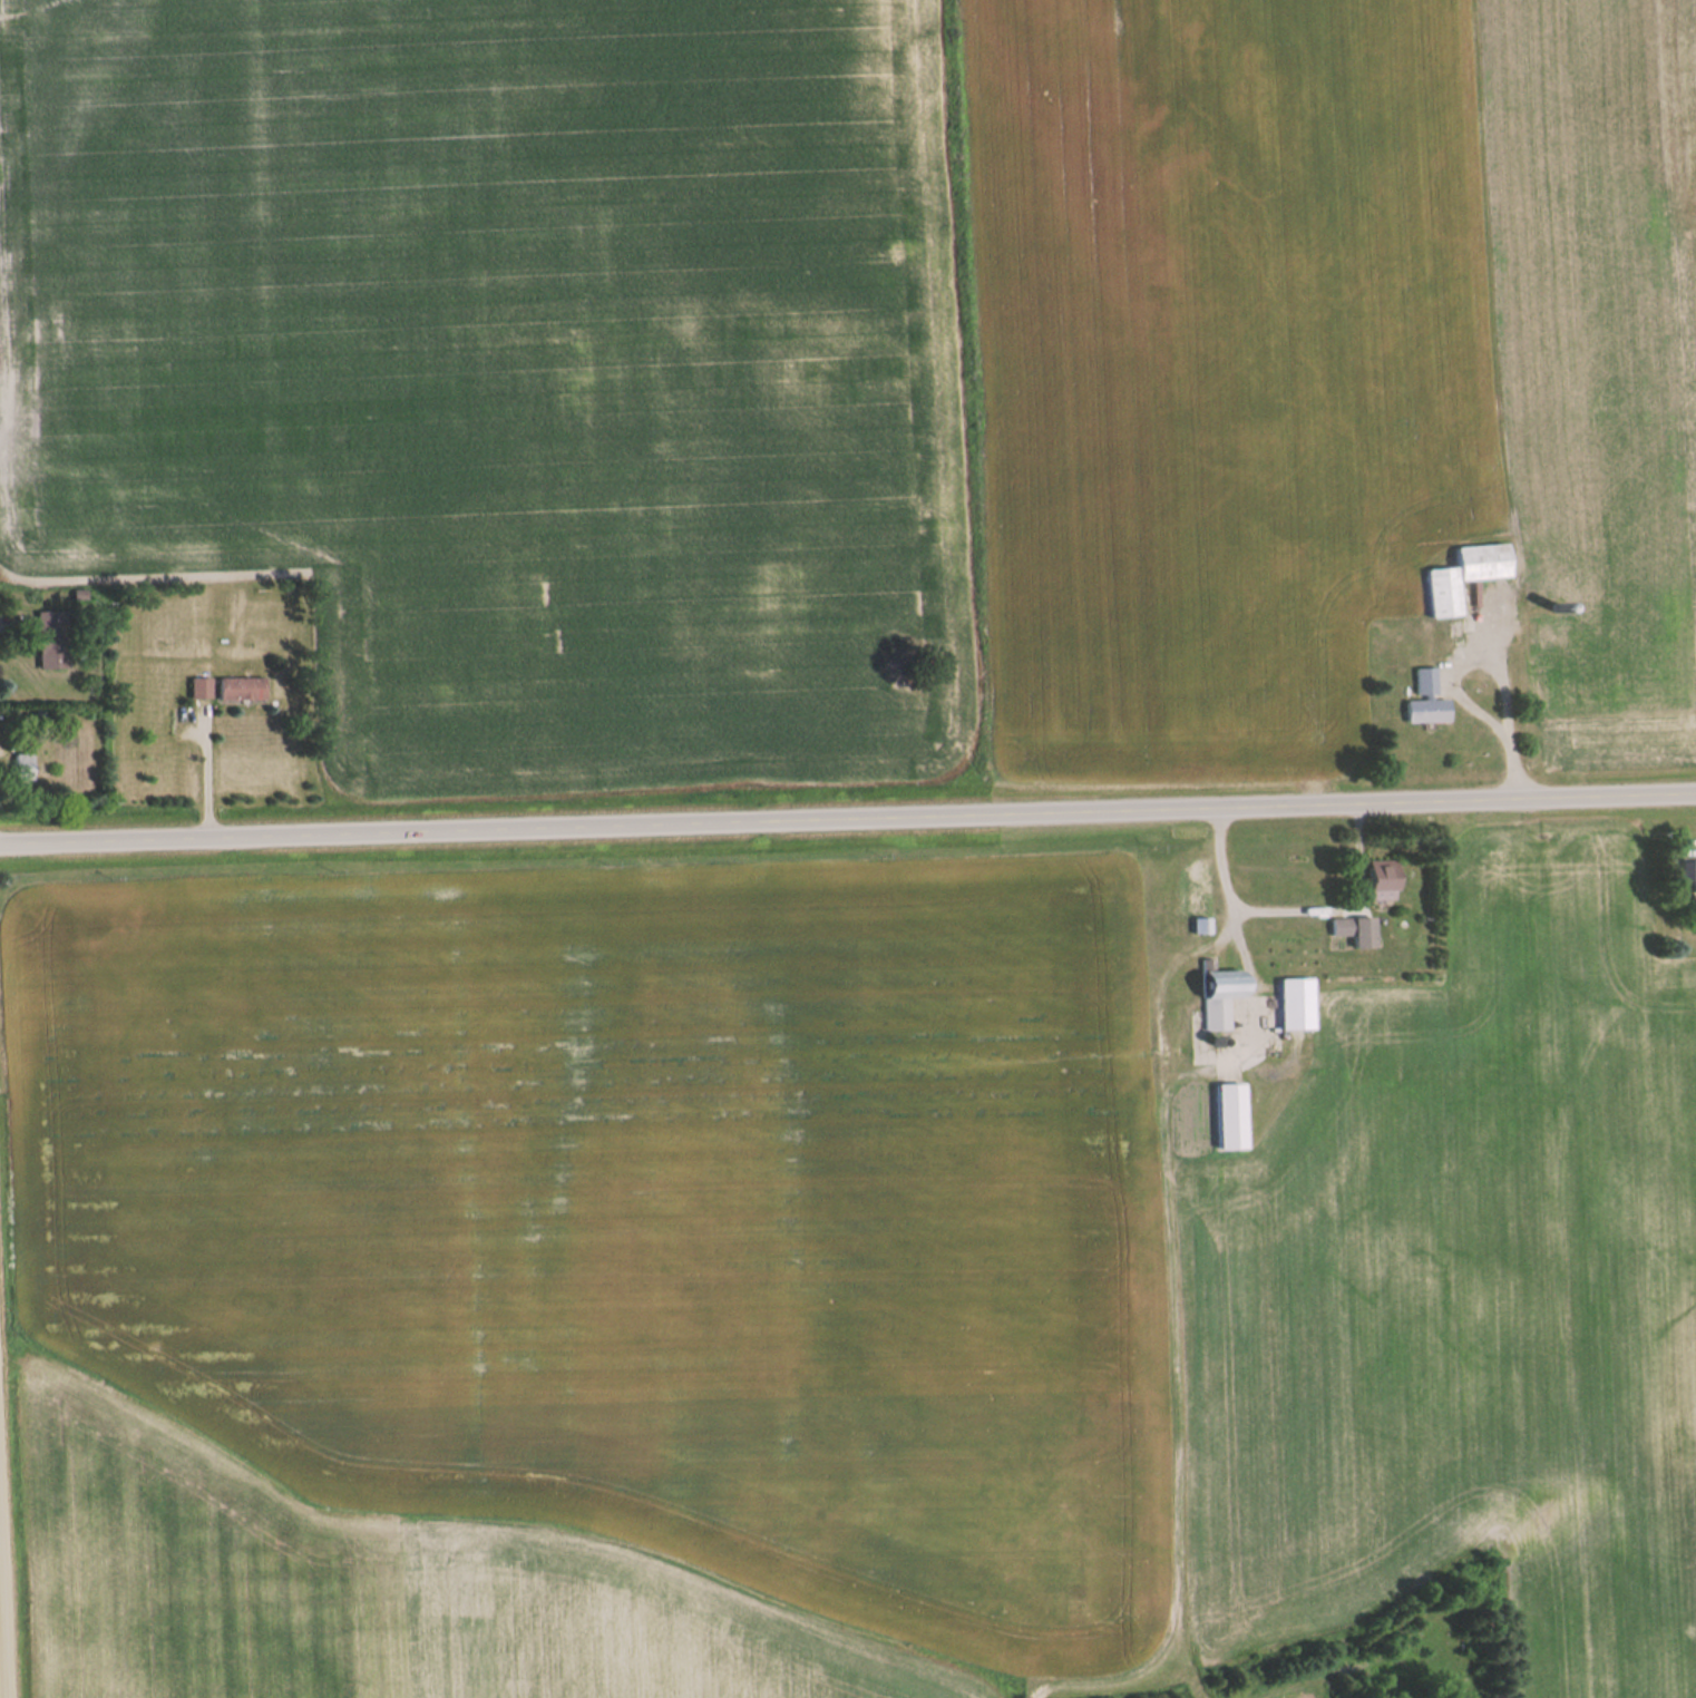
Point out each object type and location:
building: (1464, 576)
building: (52, 641)
building: (201, 689)
building: (241, 689)
building: (1426, 701)
building: (23, 768)
road: (848, 826)
building: (1688, 874)
building: (1382, 880)
building: (1200, 910)
building: (1354, 931)
building: (1220, 998)
building: (1295, 1005)
road: (3, 1608)

